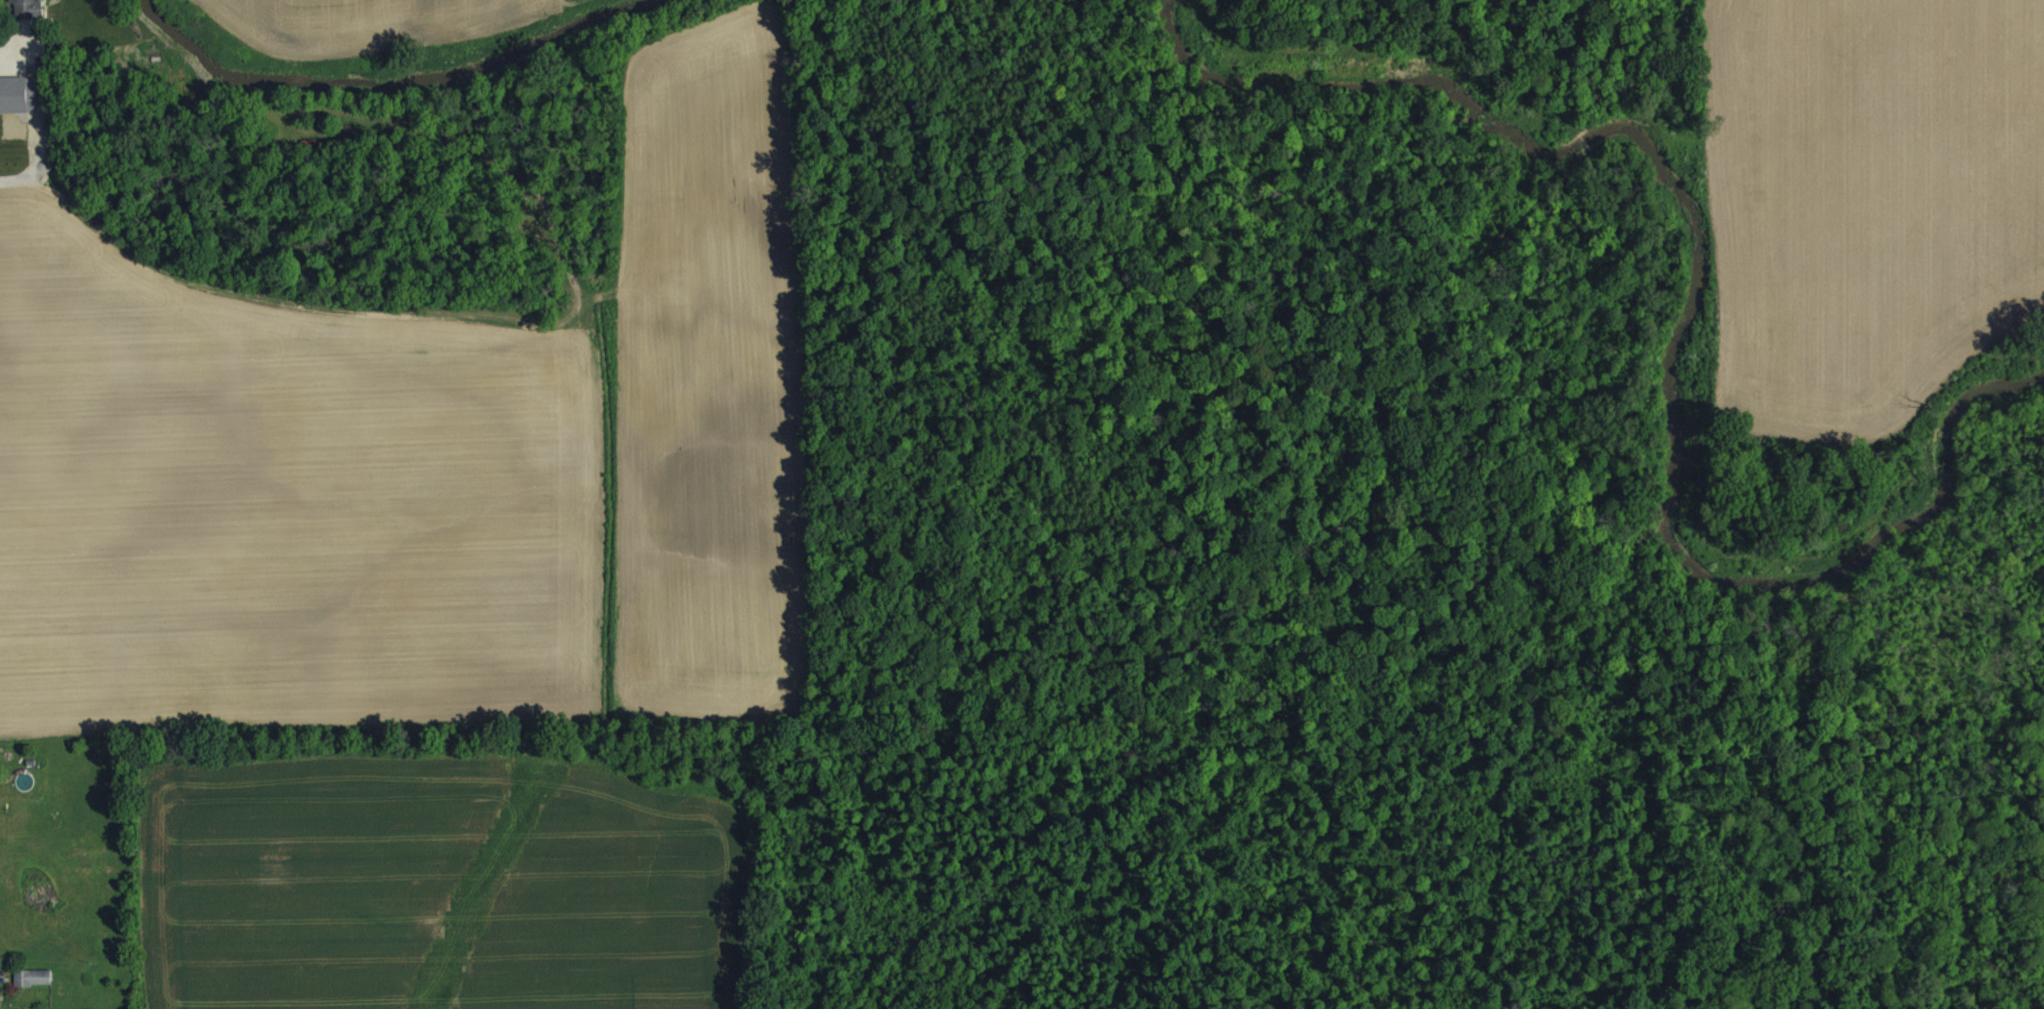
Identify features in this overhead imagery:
building: (24, 16)
building: (17, 107)
road: (38, 119)
building: (32, 990)

